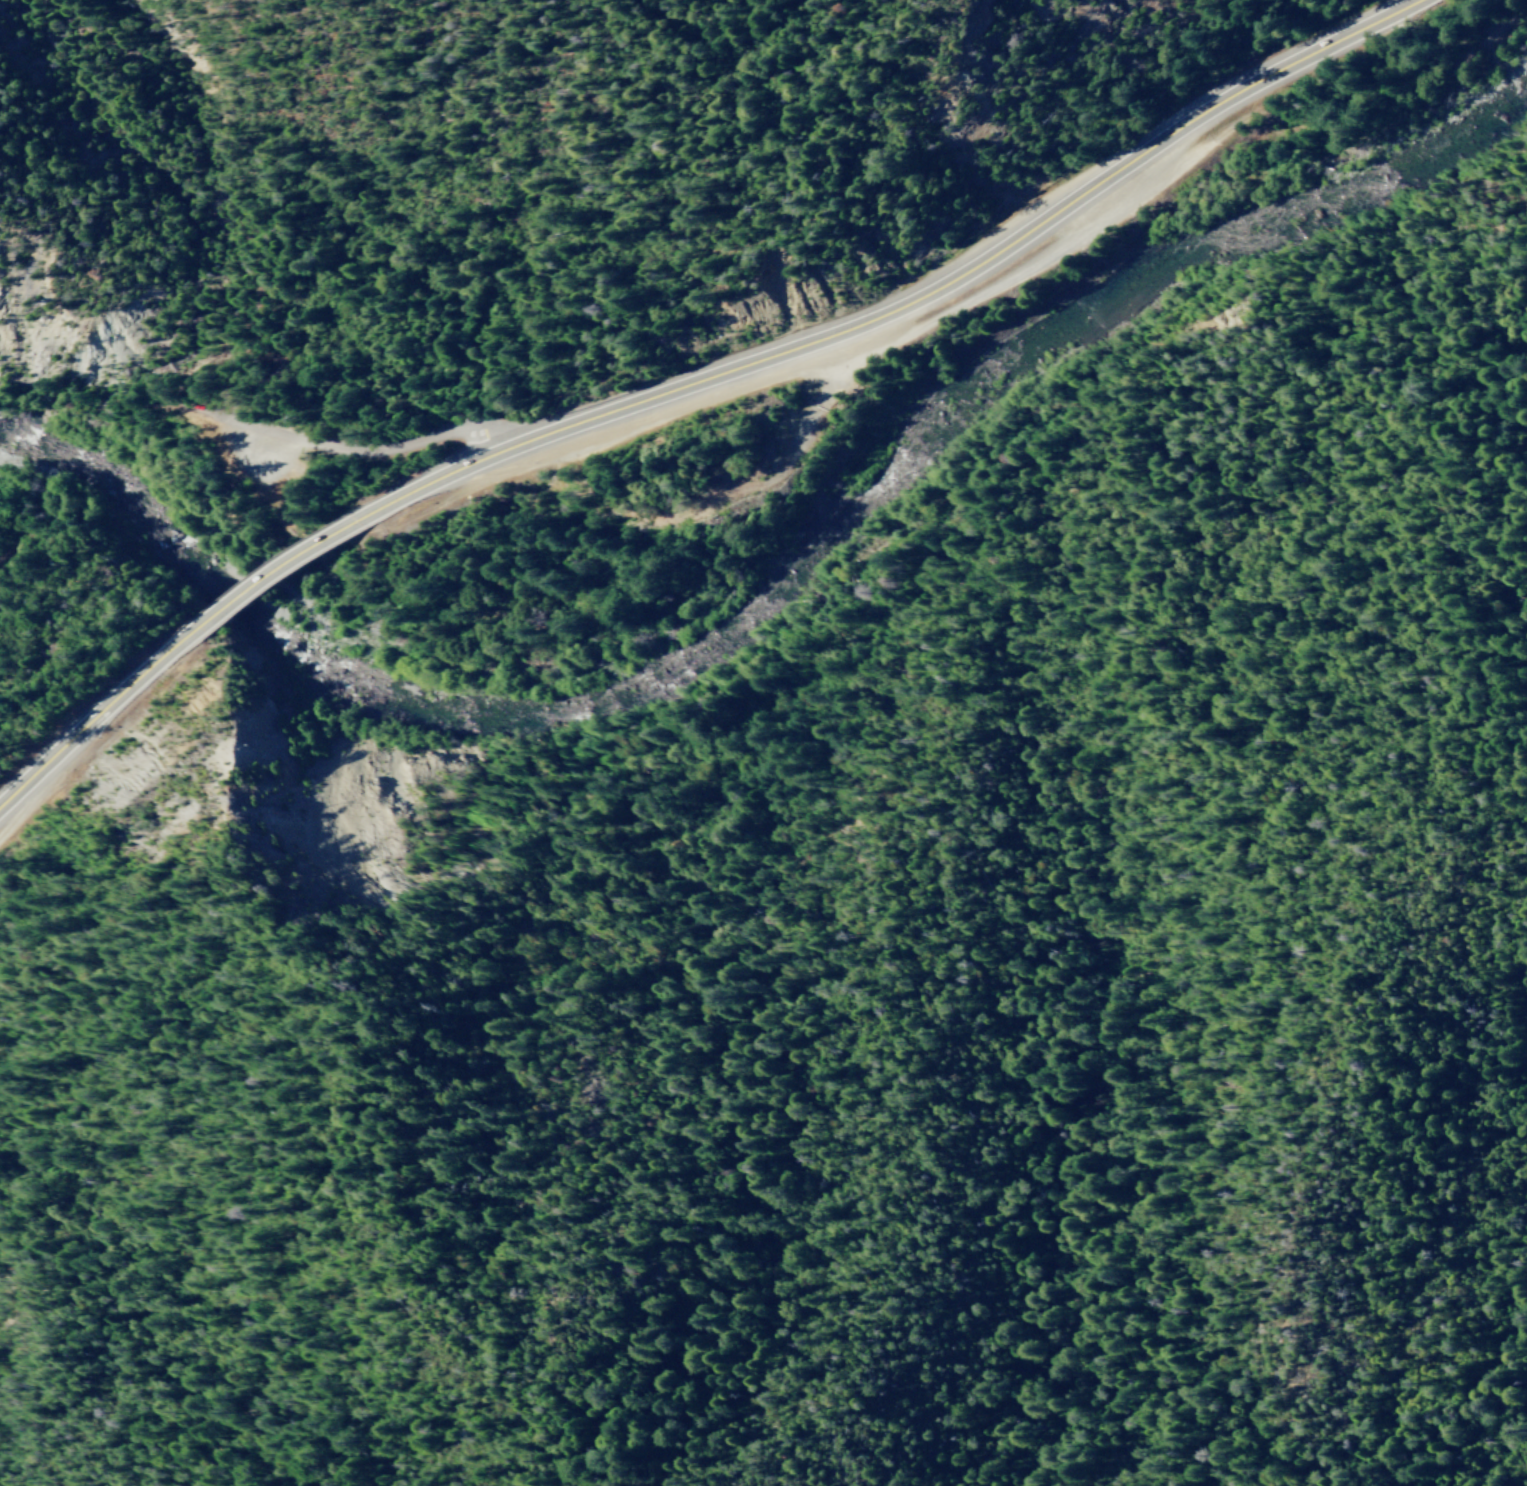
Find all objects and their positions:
river: (1213, 223)
road: (911, 298)
road: (307, 443)
river: (110, 502)
road: (272, 569)
river: (582, 666)
road: (92, 720)

